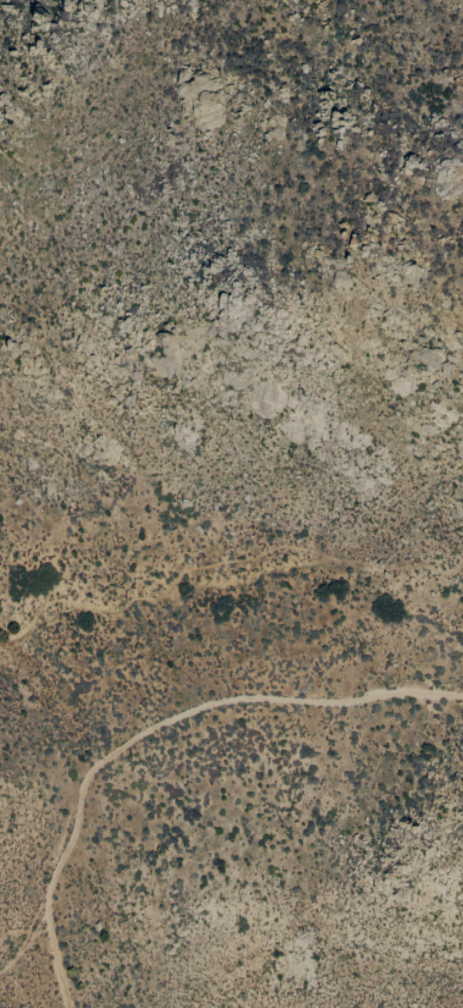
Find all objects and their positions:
road: (149, 724)

